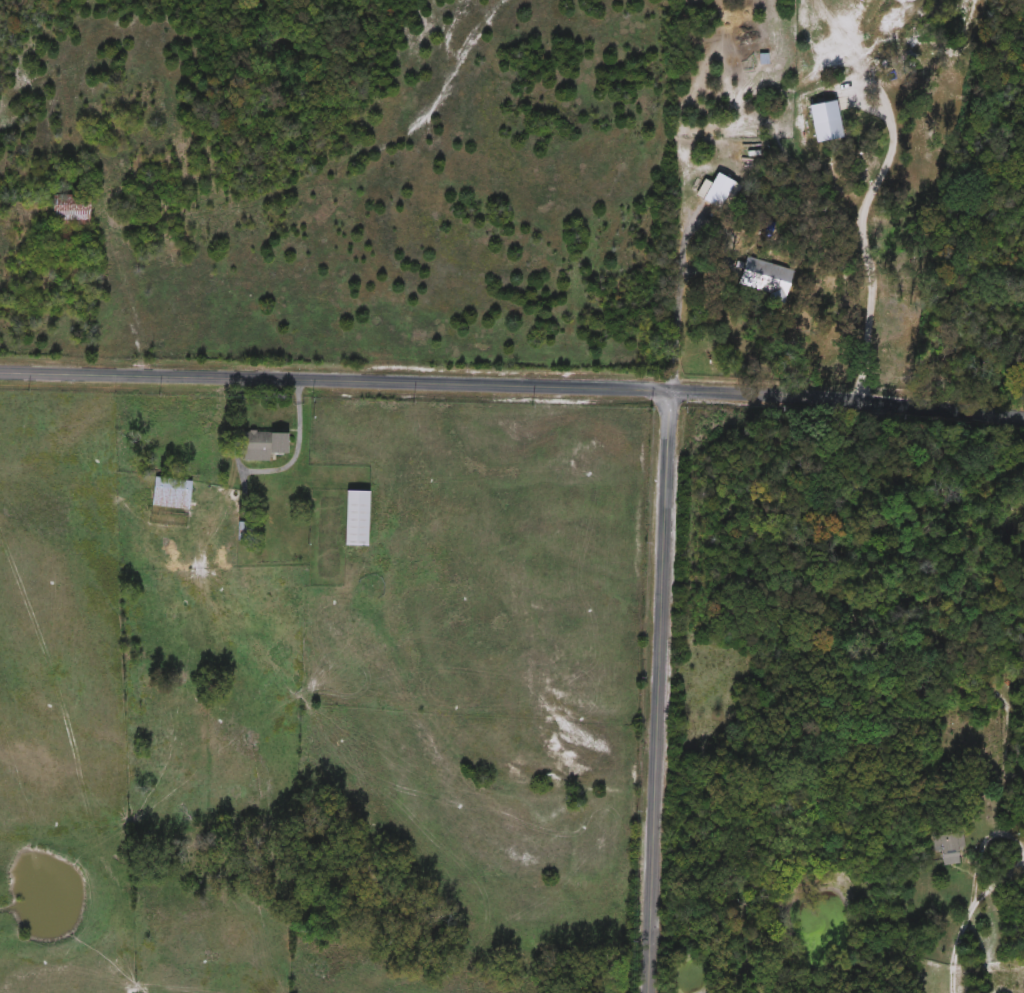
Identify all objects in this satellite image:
building: (756, 60)
building: (712, 191)
building: (71, 210)
road: (861, 237)
building: (768, 277)
road: (674, 322)
road: (359, 336)
road: (512, 382)
building: (266, 446)
building: (174, 494)
building: (360, 519)
building: (247, 532)
road: (656, 690)
building: (950, 848)
road: (970, 887)

